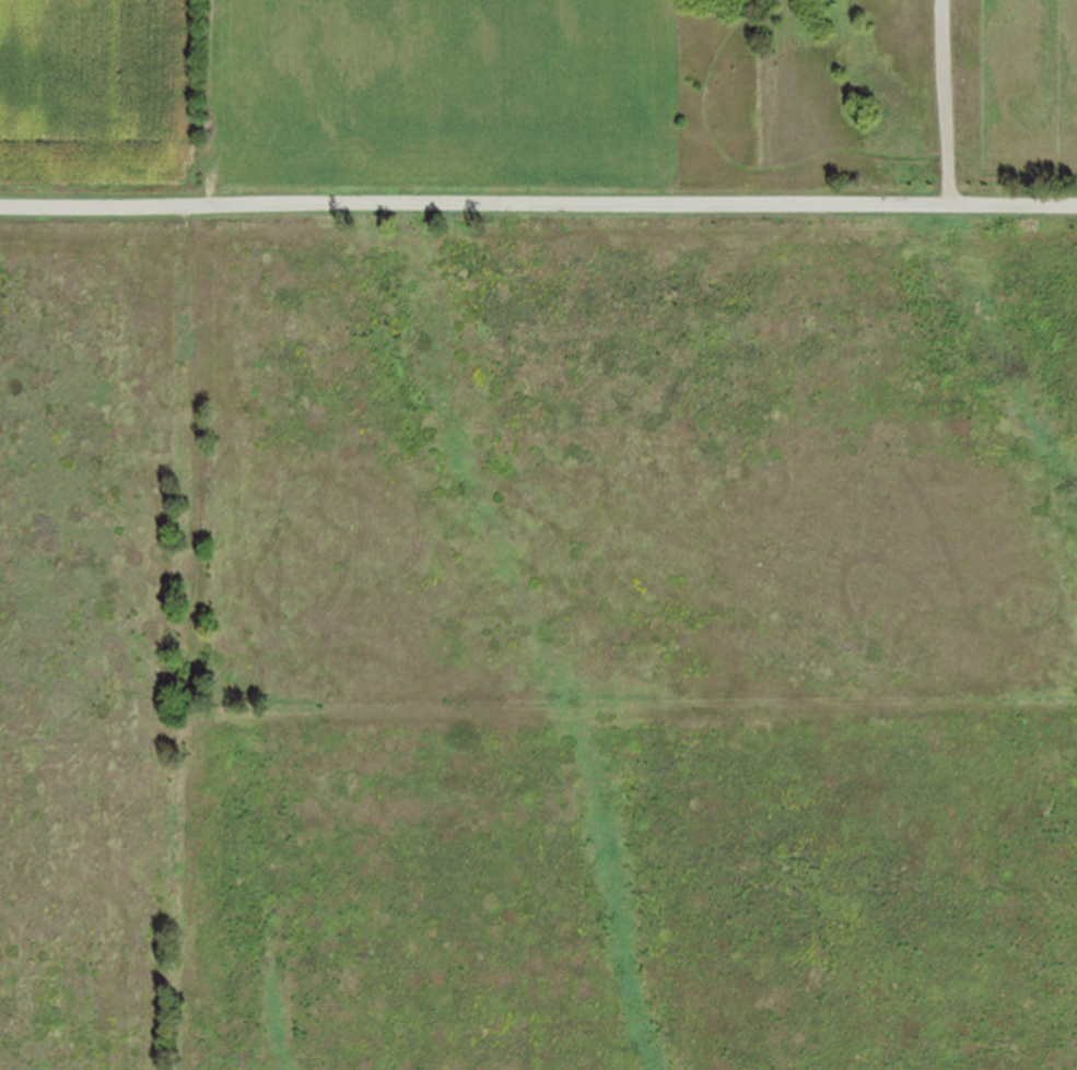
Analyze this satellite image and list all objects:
road: (947, 101)
road: (538, 203)

